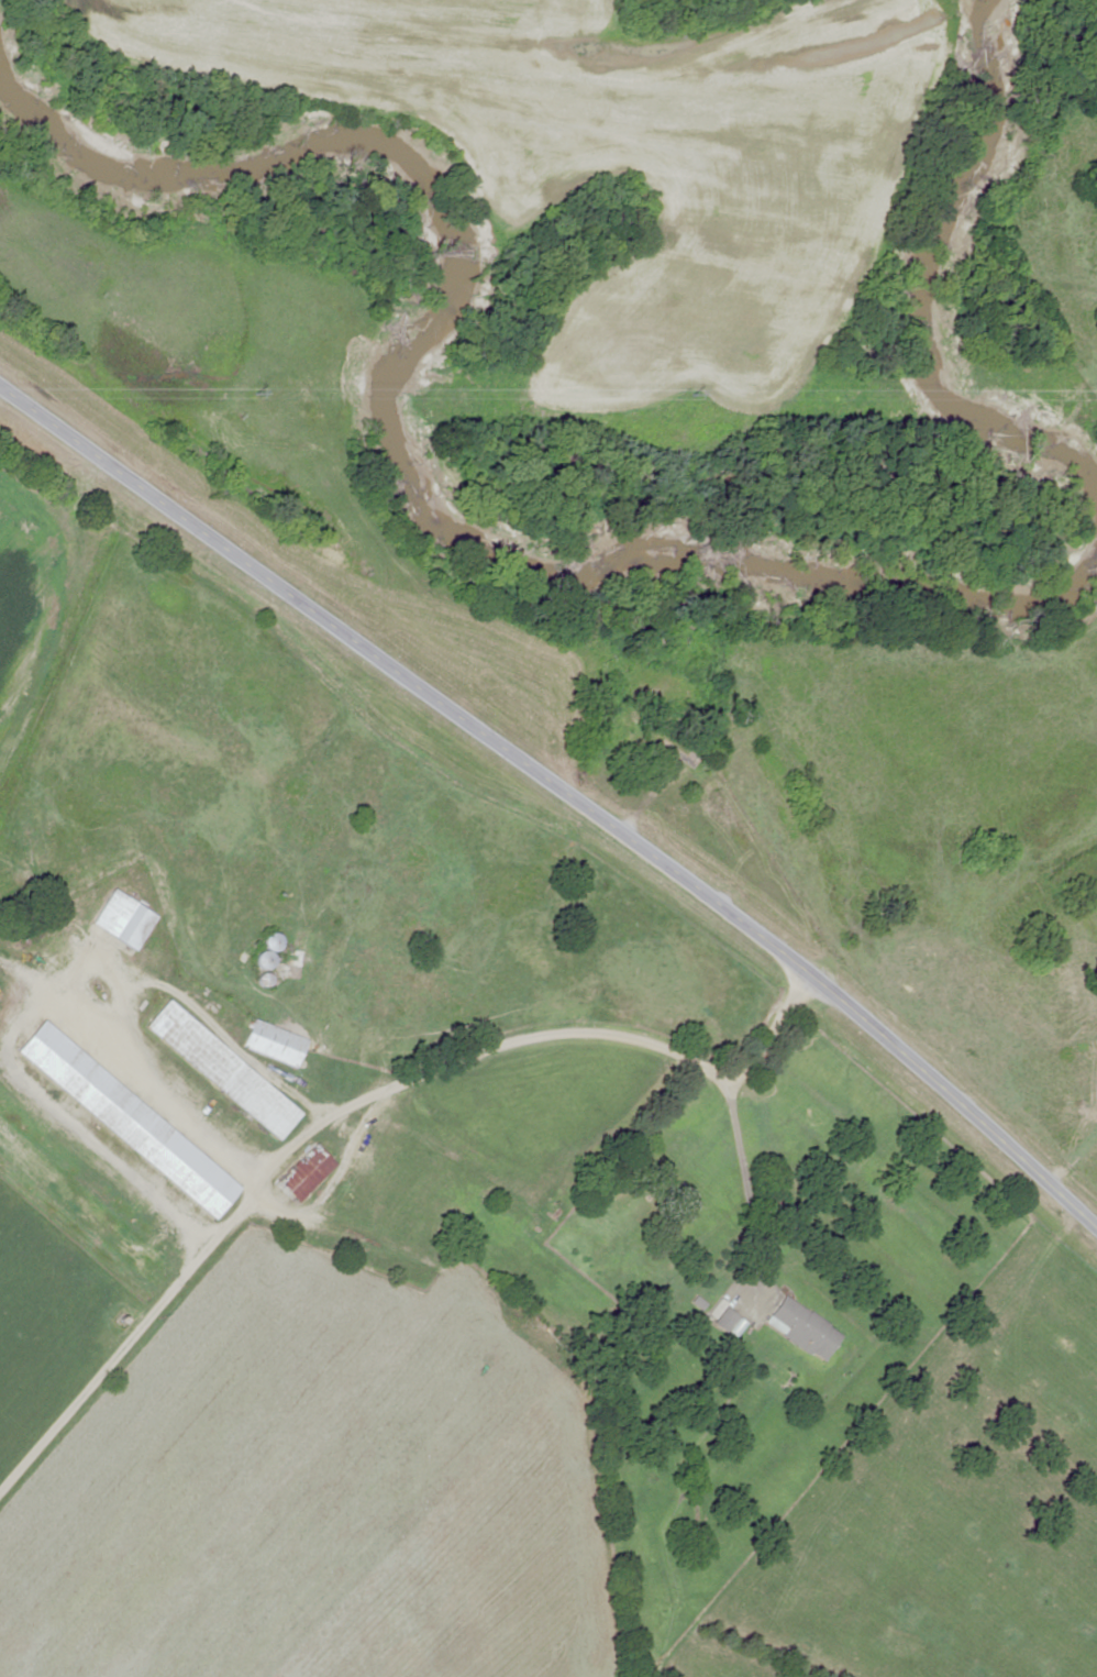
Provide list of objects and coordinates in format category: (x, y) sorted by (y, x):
river: (921, 302)
power tower: (695, 394)
power tower: (250, 395)
river: (391, 454)
building: (672, 749)
road: (562, 792)
building: (124, 919)
building: (272, 950)
building: (276, 1044)
building: (224, 1070)
building: (130, 1119)
building: (307, 1173)
building: (725, 1320)
building: (804, 1330)

